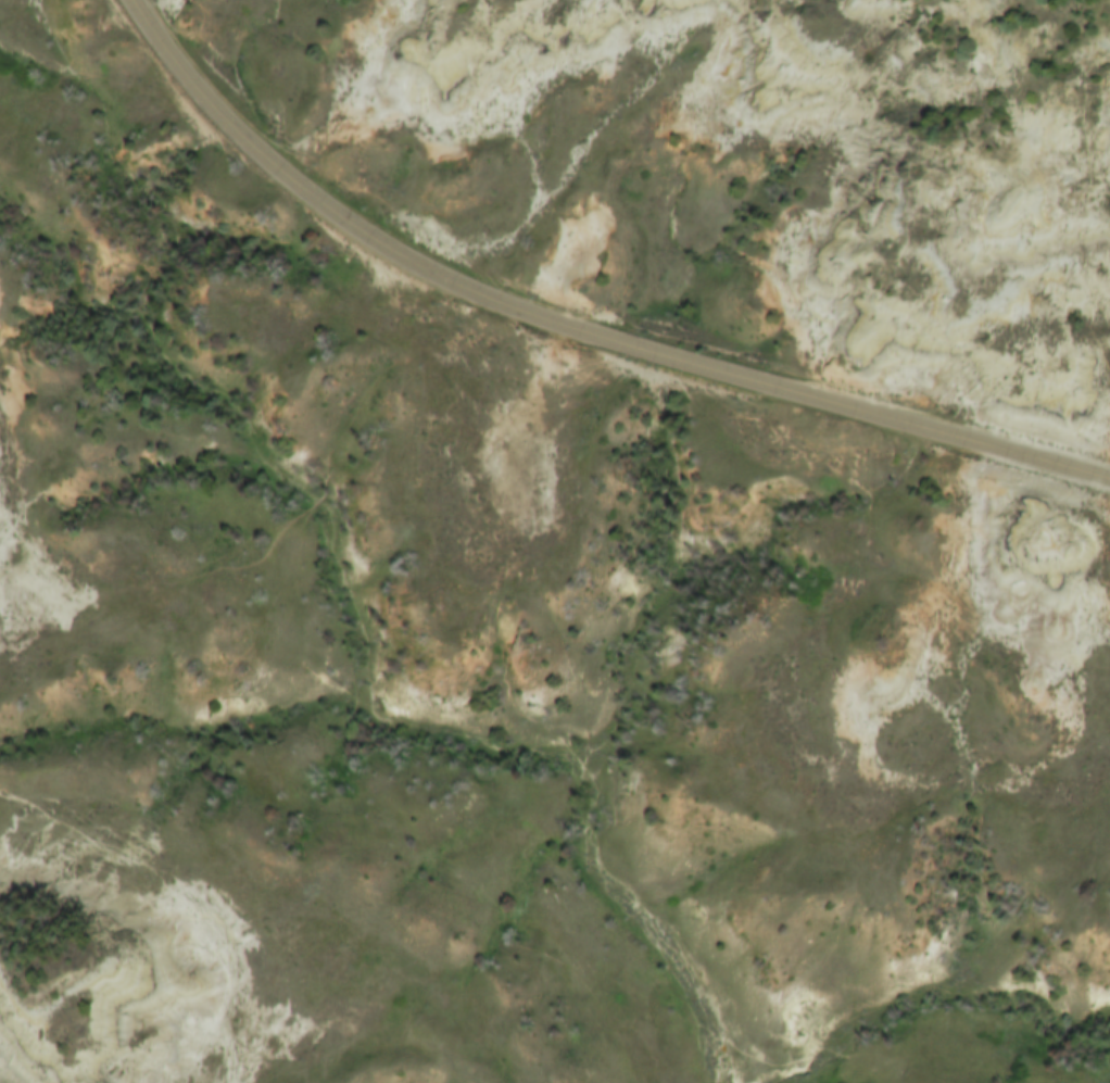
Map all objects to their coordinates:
road: (572, 329)

